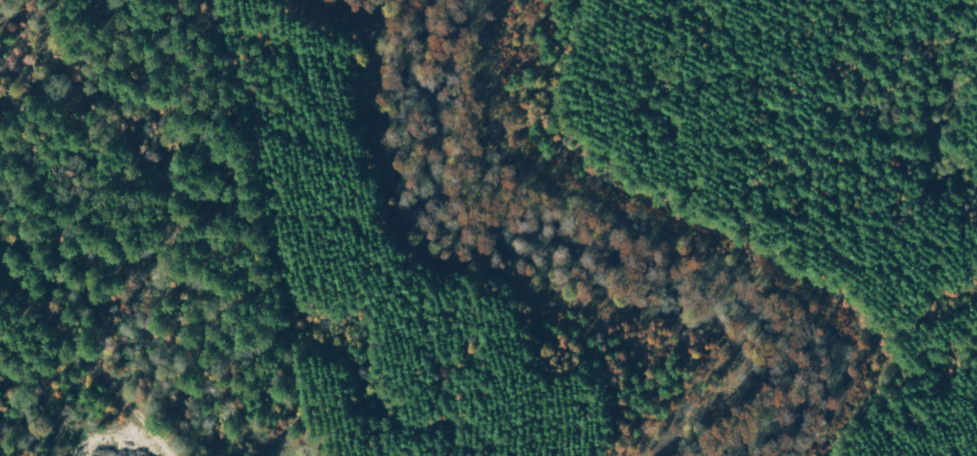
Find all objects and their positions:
road: (114, 326)

